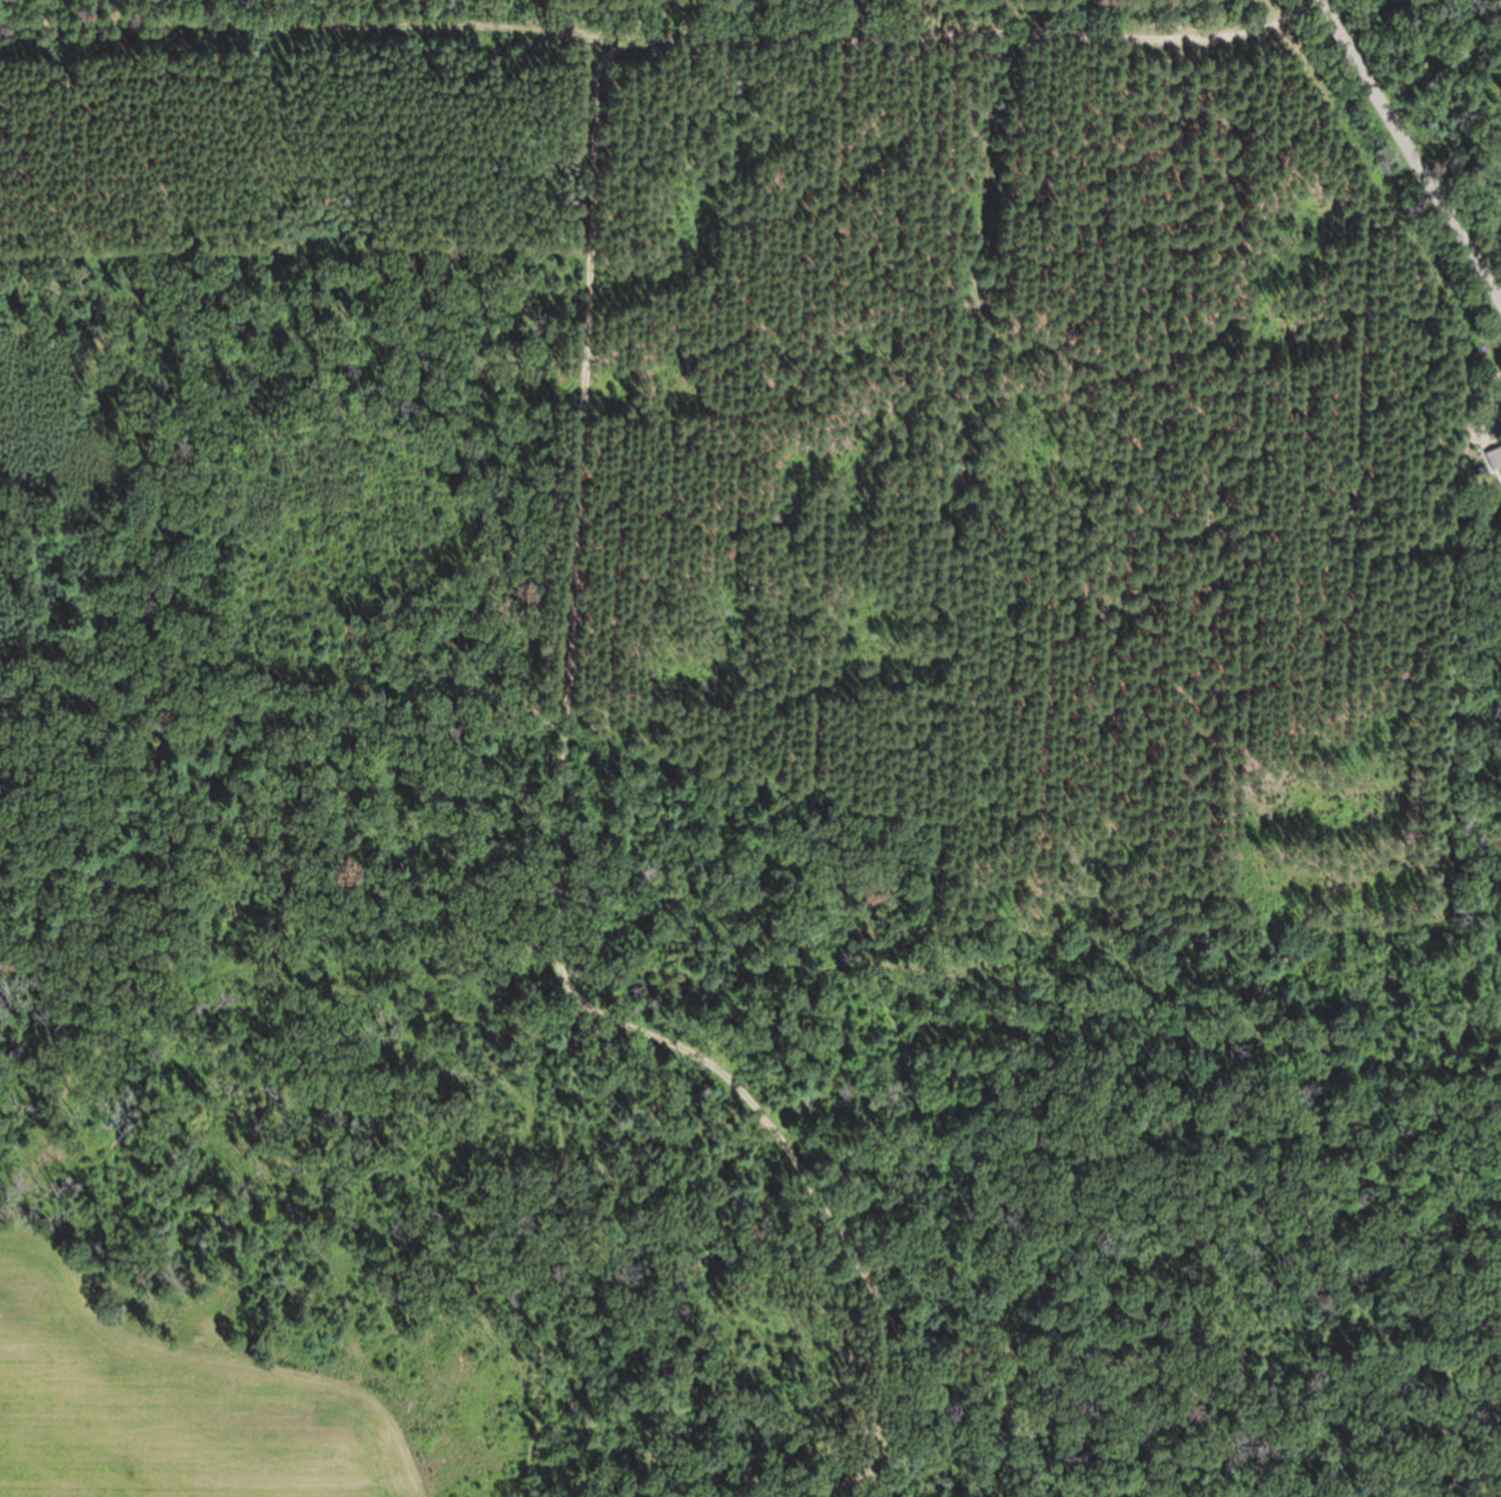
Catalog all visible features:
road: (1410, 148)

